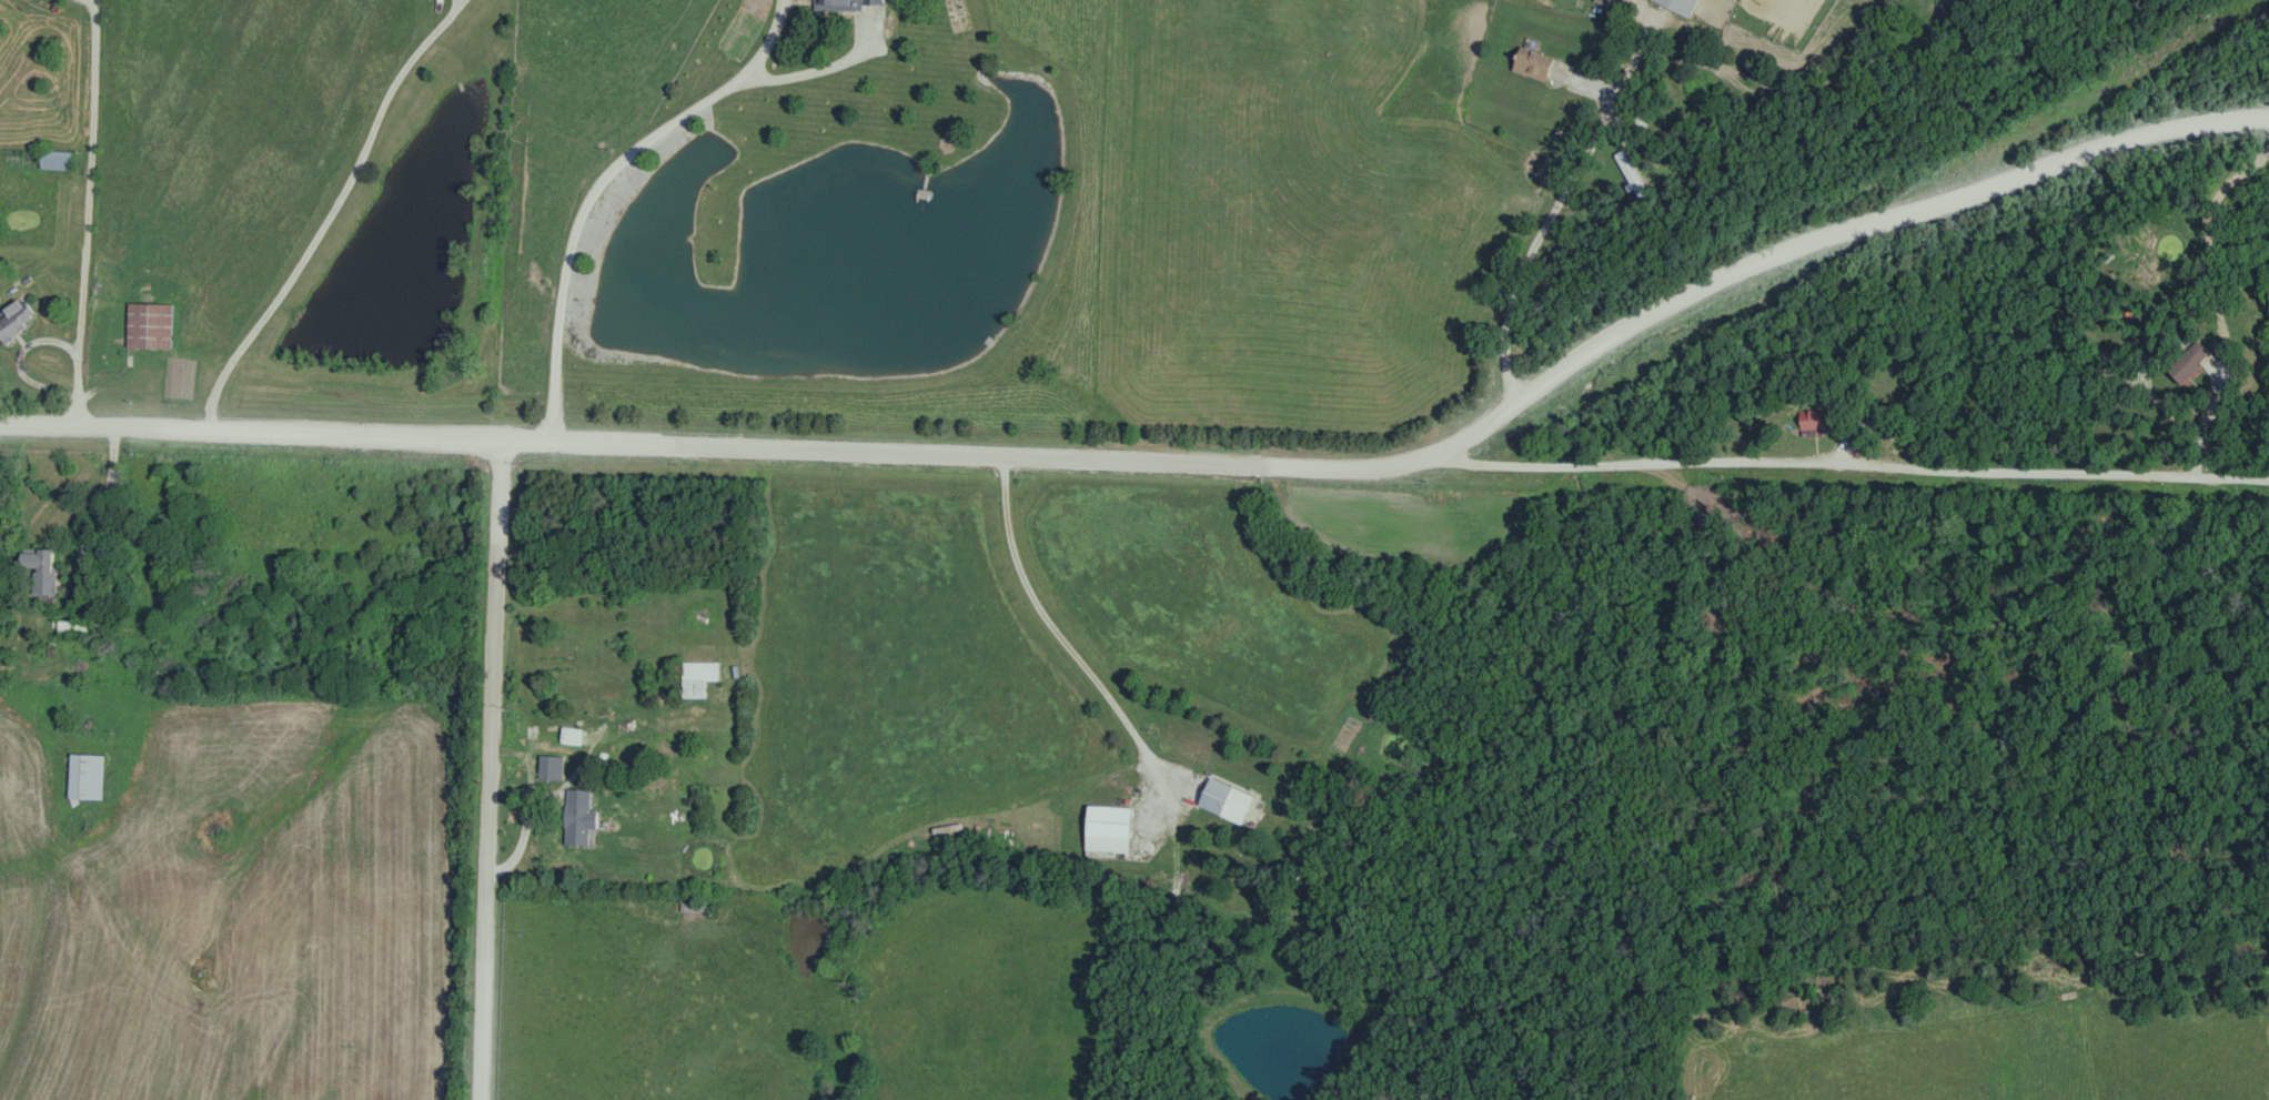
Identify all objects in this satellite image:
road: (458, 1)
building: (853, 3)
building: (1682, 6)
building: (1534, 65)
road: (815, 68)
building: (57, 161)
road: (597, 183)
road: (327, 212)
road: (89, 213)
road: (1532, 242)
building: (16, 321)
building: (150, 327)
building: (2190, 363)
road: (23, 364)
building: (1814, 421)
road: (1173, 466)
road: (1851, 472)
road: (113, 509)
building: (43, 572)
building: (82, 629)
road: (1065, 644)
building: (699, 679)
building: (573, 737)
building: (552, 769)
road: (496, 770)
building: (89, 778)
building: (1228, 803)
building: (579, 819)
building: (1110, 831)
building: (703, 908)

